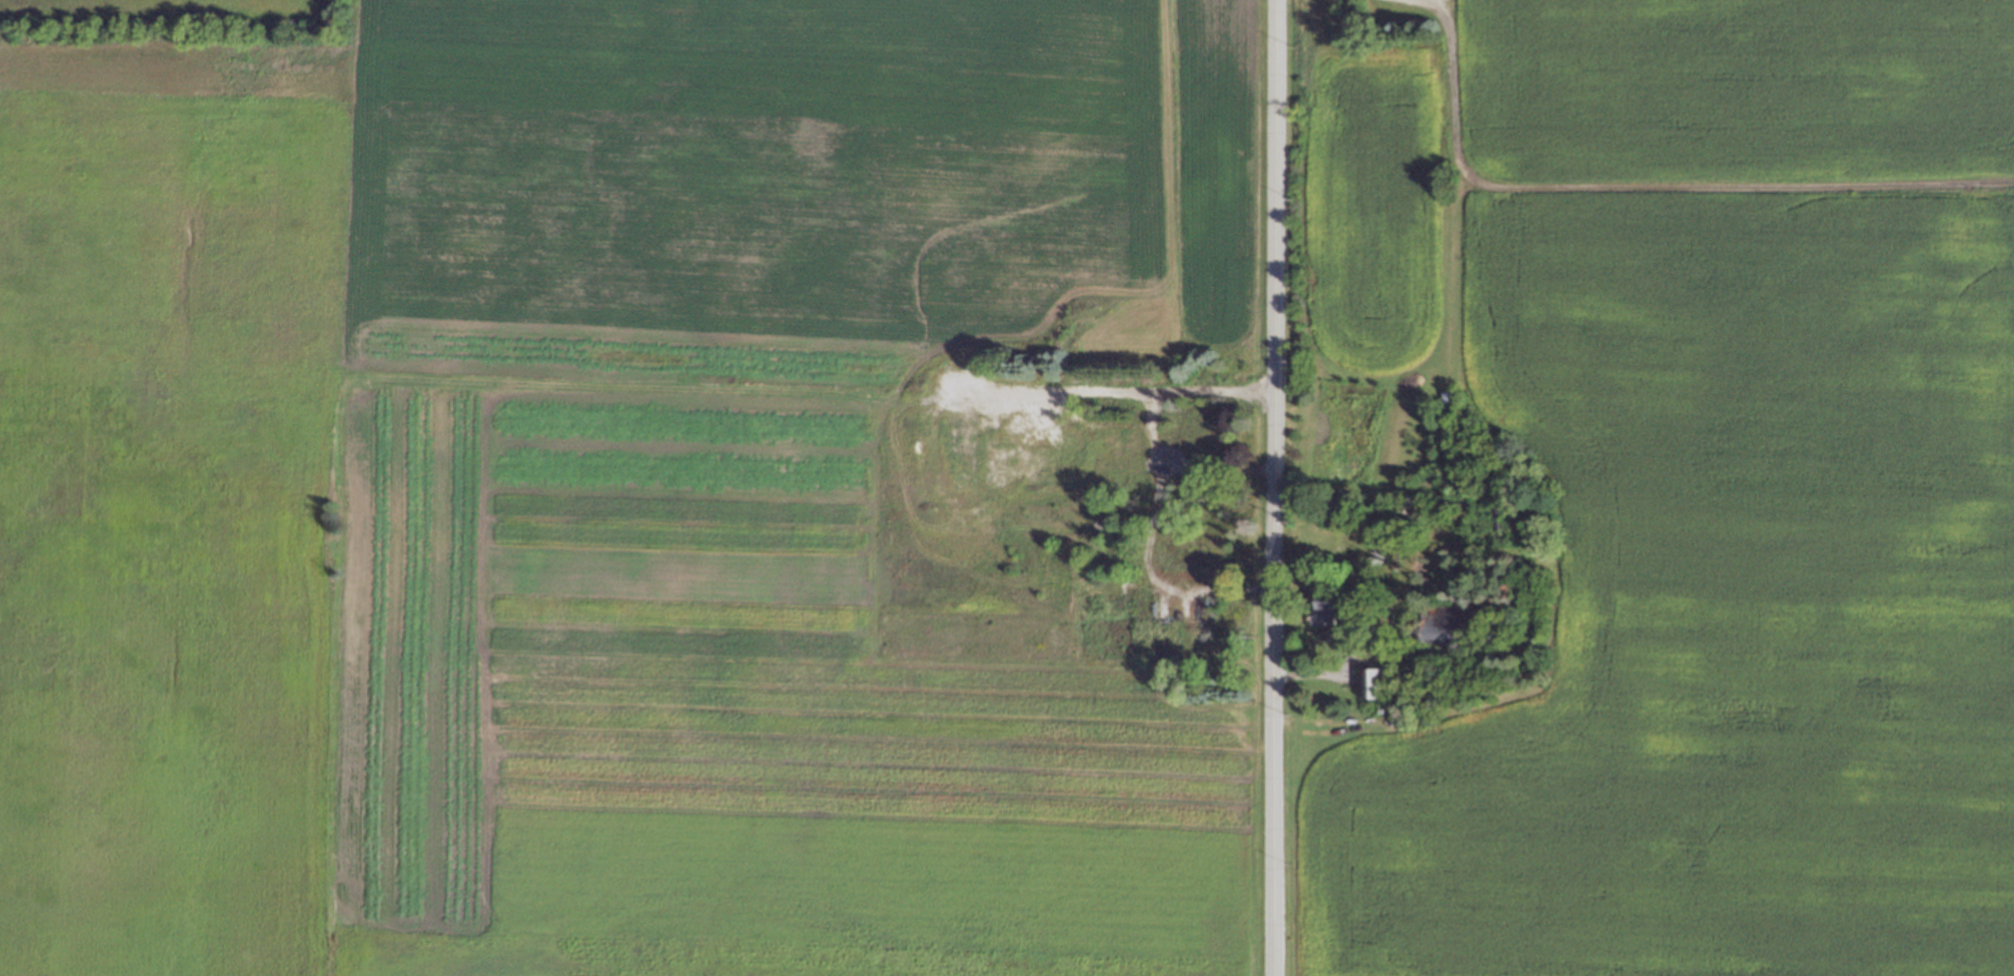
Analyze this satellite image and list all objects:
building: (1198, 434)
road: (1213, 471)
road: (1269, 487)
road: (1155, 491)
building: (1212, 562)
building: (1328, 612)
road: (1321, 673)
building: (1373, 683)

